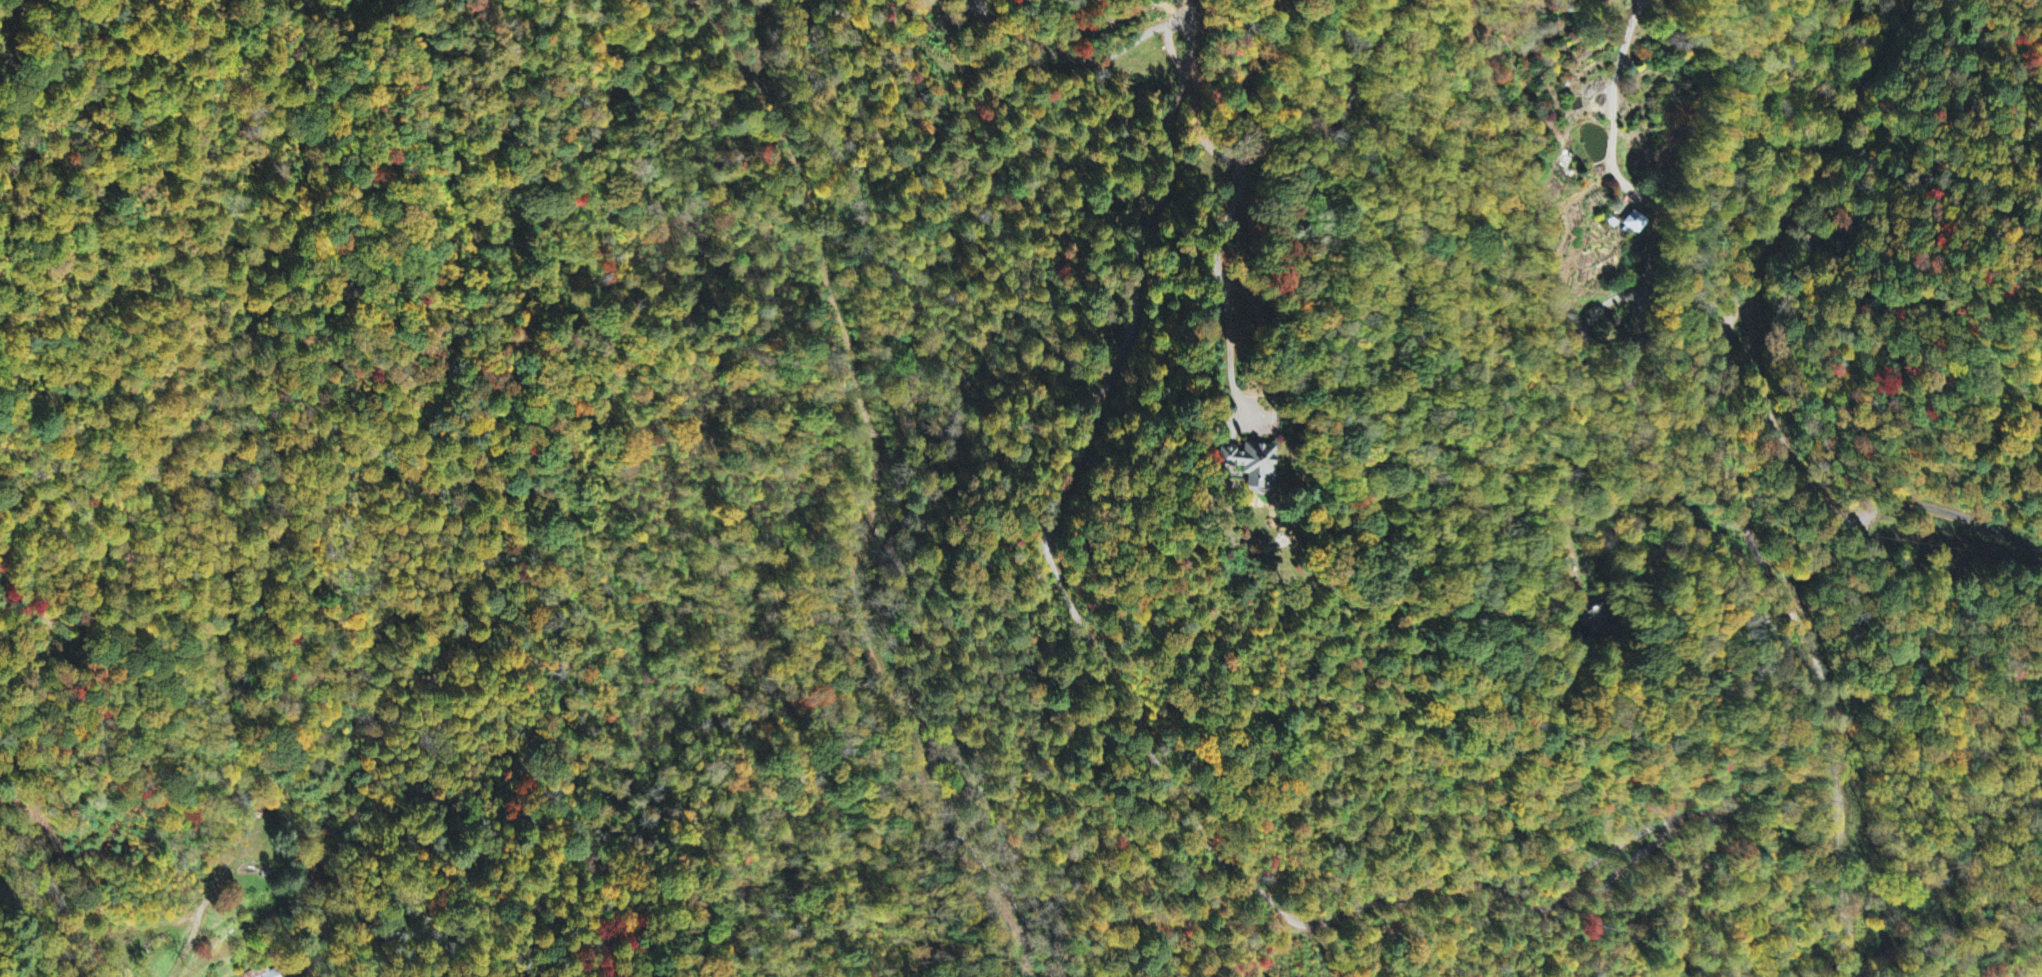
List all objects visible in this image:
road: (1142, 33)
road: (18, 41)
road: (1820, 138)
road: (1723, 432)
road: (1838, 769)
road: (1166, 775)
road: (38, 921)
building: (266, 973)

